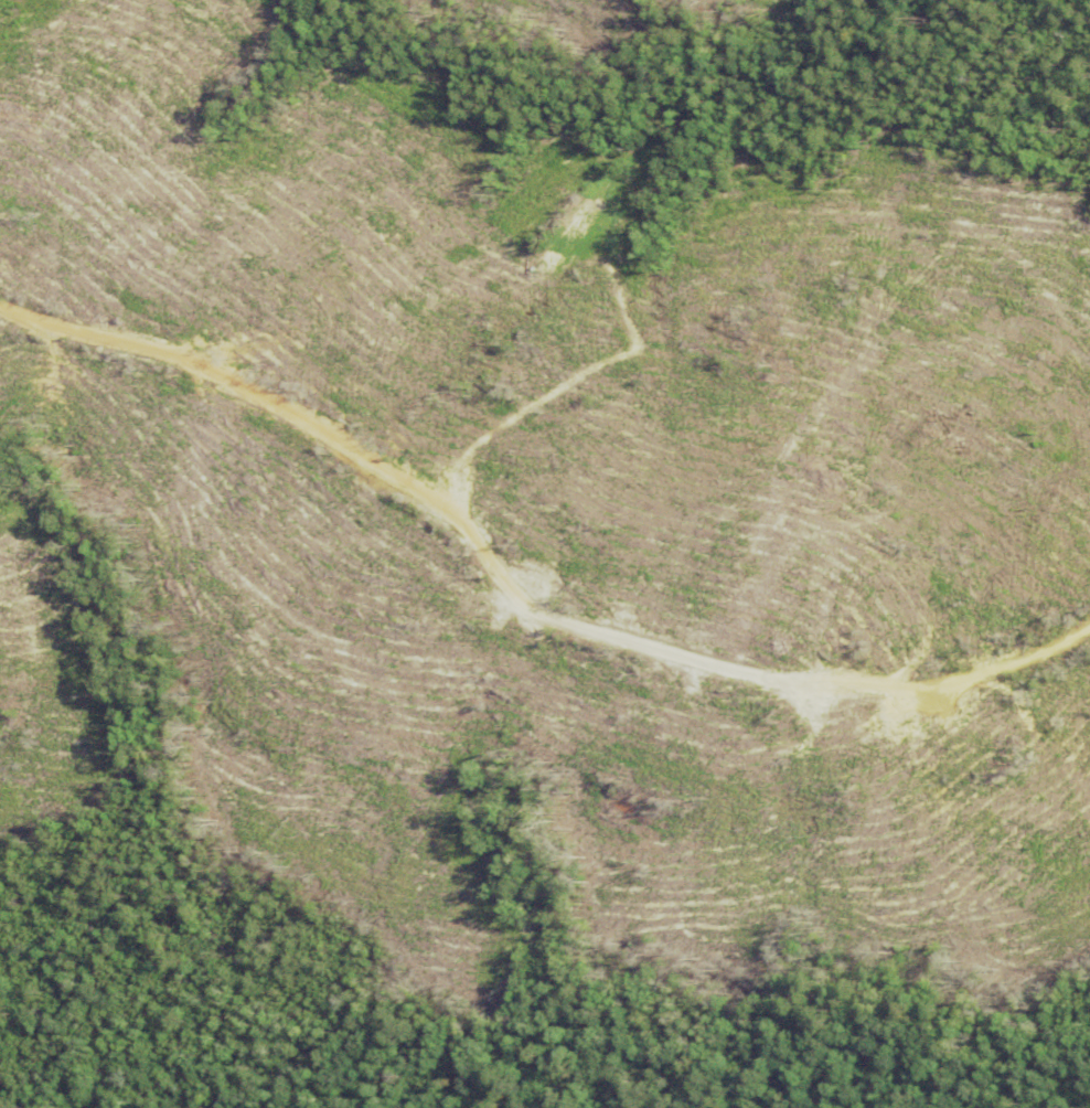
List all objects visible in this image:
road: (515, 594)

